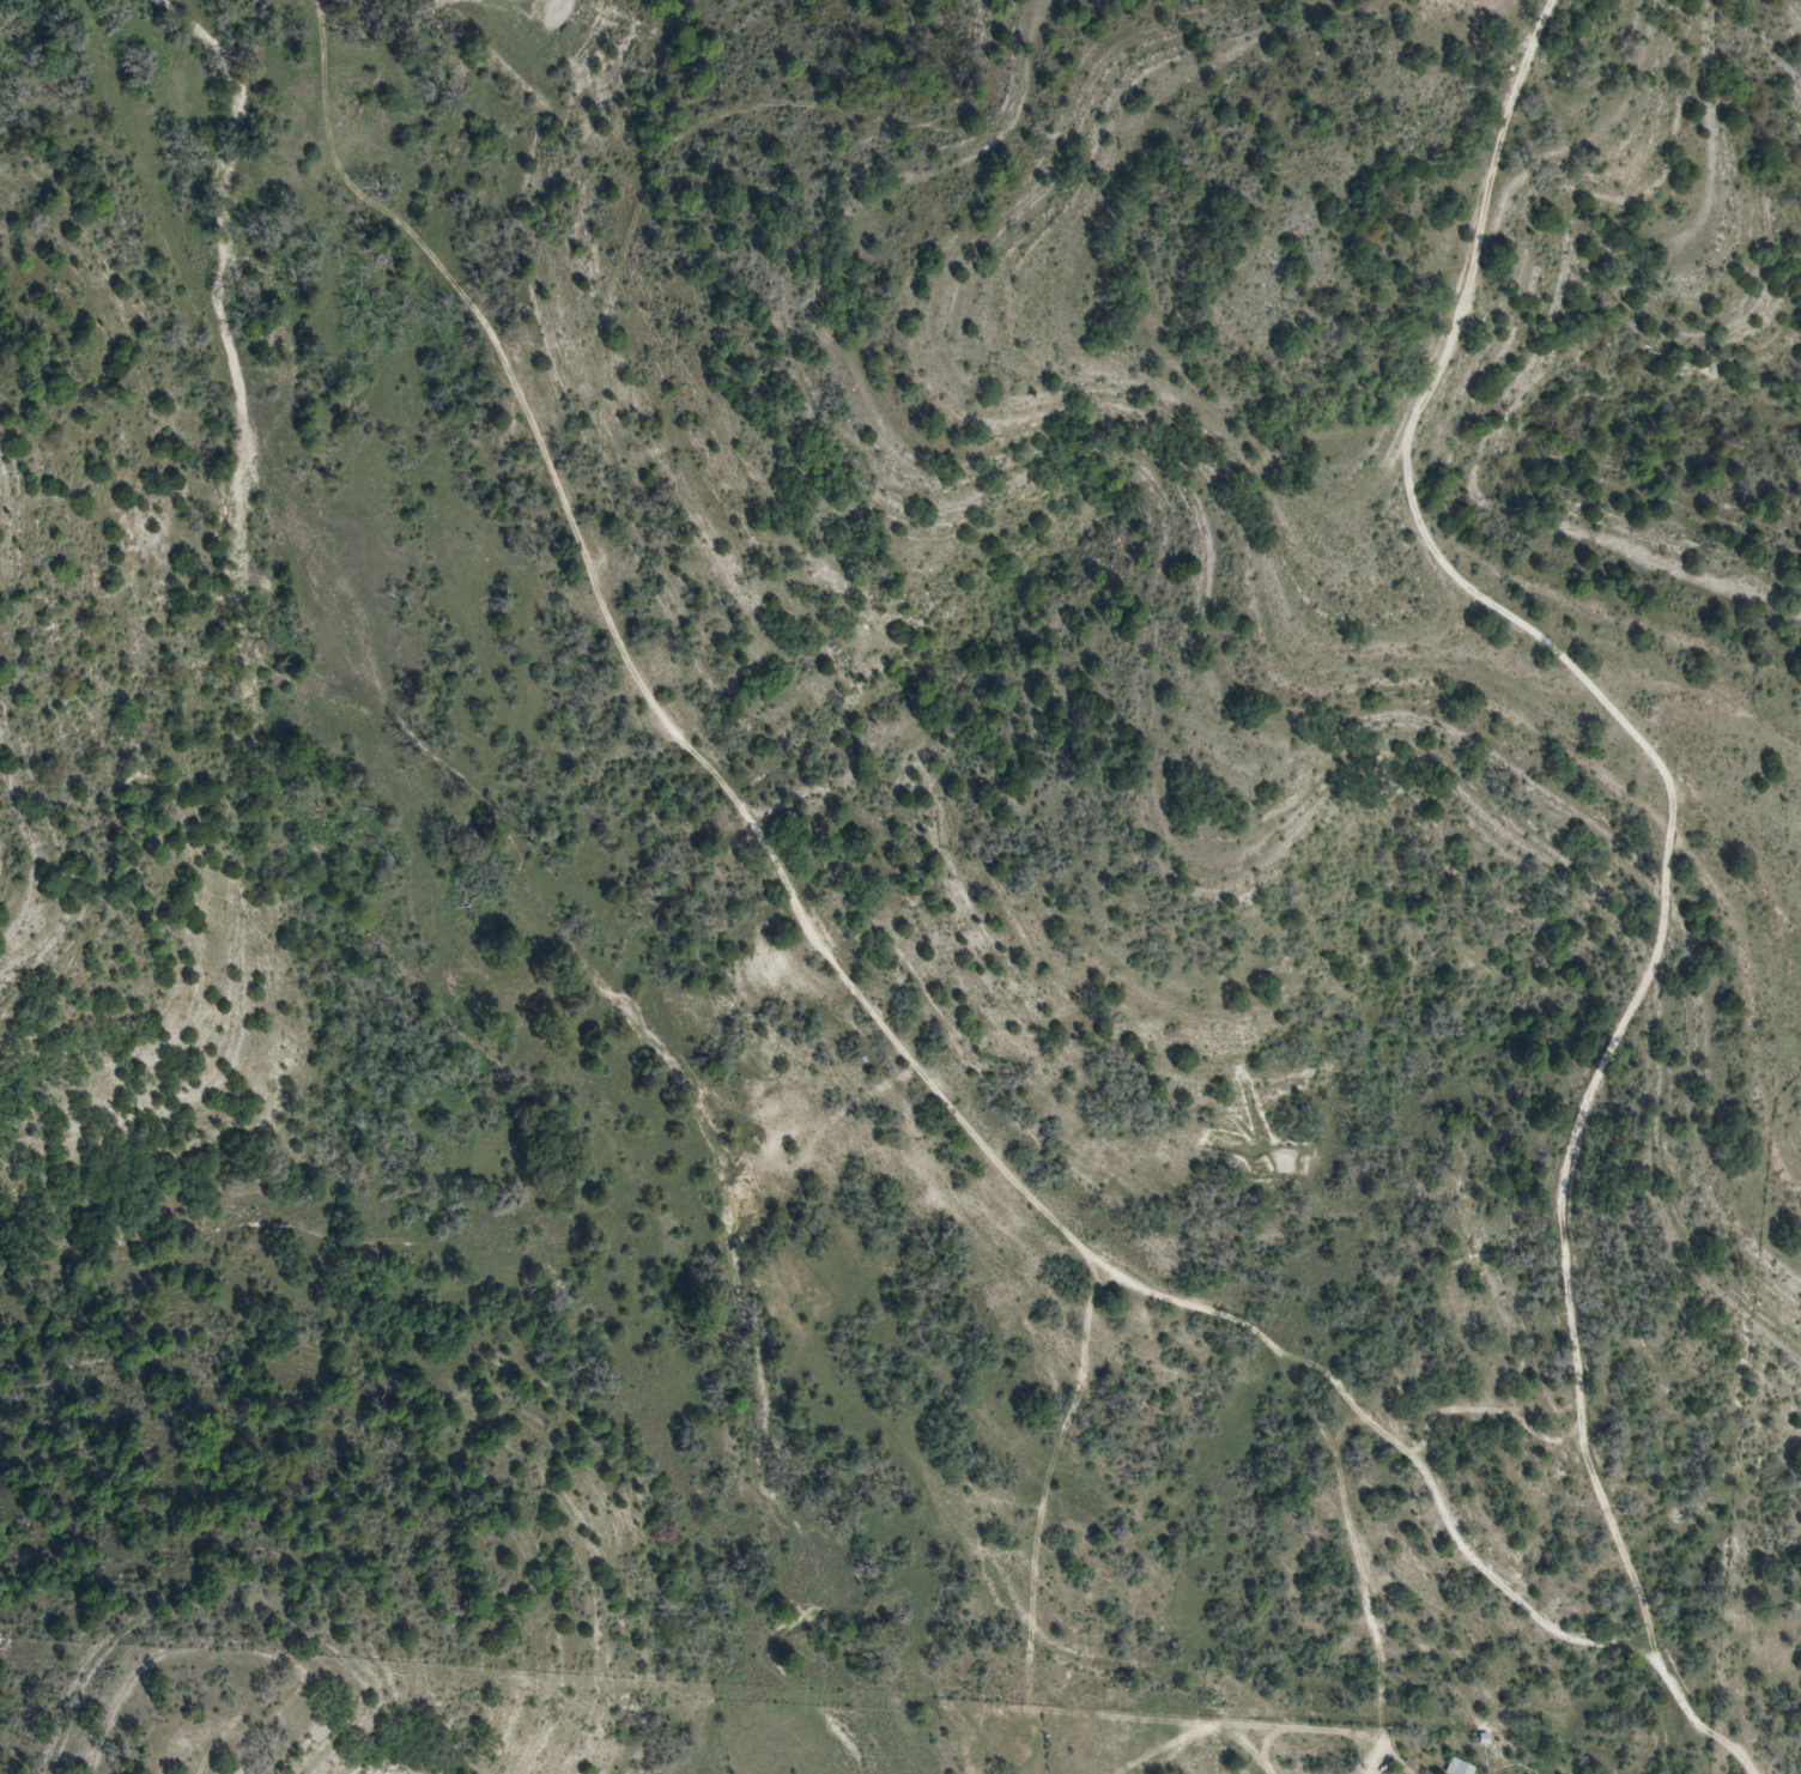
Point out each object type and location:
road: (1388, 1766)
building: (1456, 1767)

